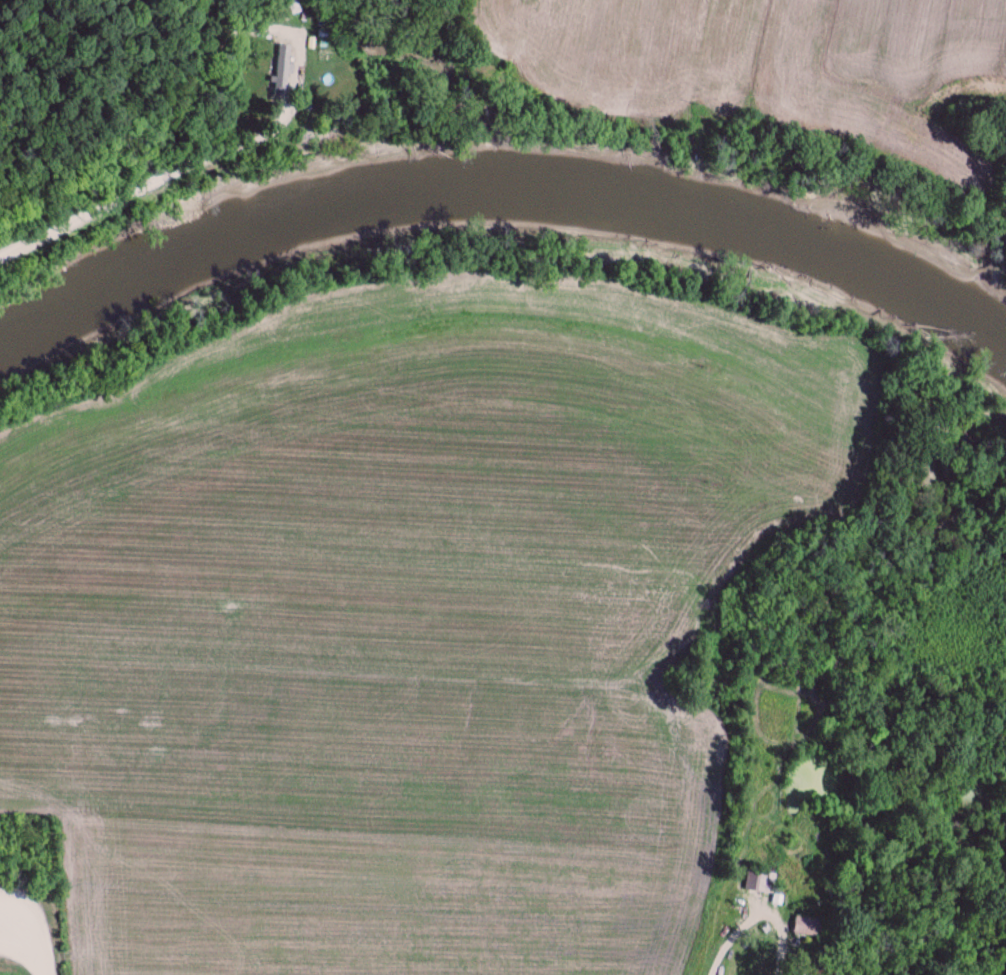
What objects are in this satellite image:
building: (282, 66)
road: (221, 101)
road: (81, 212)
building: (760, 883)
road: (756, 912)
building: (808, 927)

